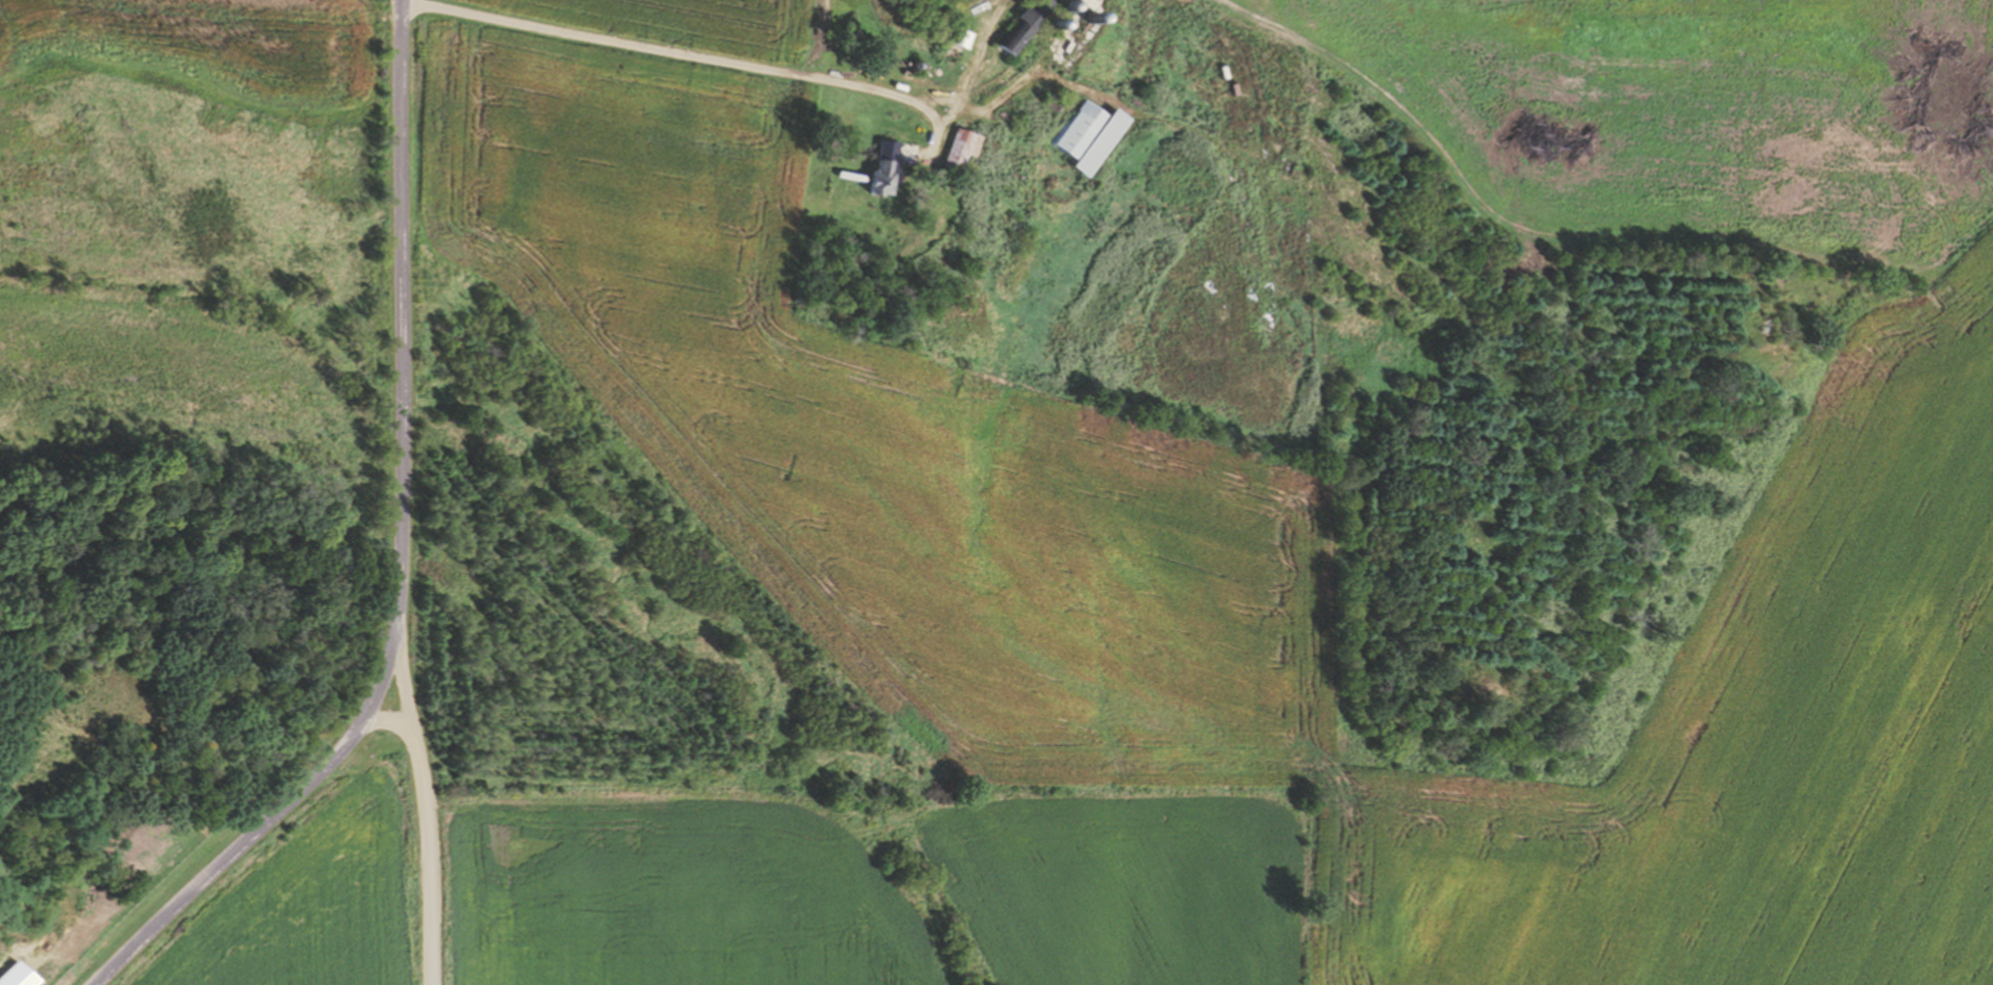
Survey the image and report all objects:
building: (946, 38)
road: (673, 53)
building: (1081, 137)
building: (953, 150)
building: (878, 171)
road: (400, 551)
road: (388, 718)
road: (424, 809)

